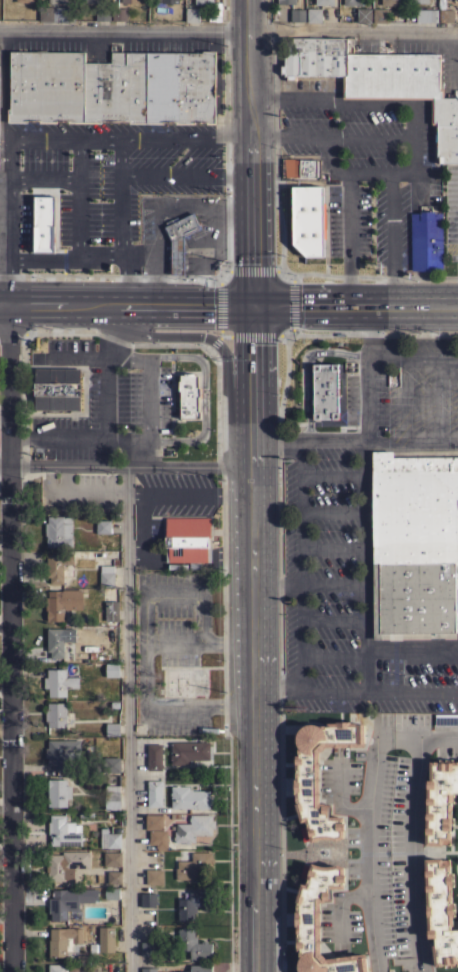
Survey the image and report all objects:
building: (24, 1)
building: (57, 1)
building: (91, 1)
building: (131, 1)
building: (170, 1)
building: (286, 1)
building: (419, 1)
building: (204, 2)
building: (324, 2)
building: (352, 2)
building: (390, 2)
building: (103, 13)
building: (56, 14)
building: (119, 14)
building: (192, 14)
building: (297, 14)
building: (314, 15)
building: (364, 15)
building: (380, 15)
building: (426, 15)
building: (446, 15)
road: (225, 29)
road: (451, 50)
building: (379, 78)
building: (113, 87)
road: (261, 99)
road: (341, 105)
building: (0, 110)
road: (375, 138)
road: (416, 138)
road: (88, 139)
road: (230, 139)
road: (263, 139)
road: (247, 153)
parking lot: (364, 162)
building: (304, 168)
road: (368, 173)
road: (405, 173)
road: (170, 175)
road: (234, 175)
road: (2, 184)
parking lot: (96, 190)
road: (344, 190)
road: (211, 206)
road: (119, 217)
road: (158, 218)
road: (4, 219)
road: (2, 220)
building: (308, 220)
parking lot: (452, 221)
building: (43, 223)
road: (80, 235)
building: (179, 239)
road: (392, 239)
building: (426, 241)
road: (192, 254)
road: (200, 254)
road: (2, 255)
road: (149, 255)
road: (177, 255)
road: (157, 272)
road: (370, 273)
road: (128, 276)
road: (4, 301)
road: (128, 303)
road: (4, 304)
road: (353, 305)
traffic signals: (249, 306)
road: (369, 330)
road: (414, 355)
building: (56, 388)
building: (325, 391)
building: (189, 395)
road: (370, 398)
road: (4, 416)
road: (303, 440)
road: (124, 463)
road: (360, 463)
road: (196, 494)
road: (299, 511)
road: (142, 524)
building: (103, 526)
building: (58, 530)
building: (187, 540)
building: (414, 543)
building: (59, 566)
building: (107, 571)
road: (275, 583)
road: (331, 583)
building: (62, 603)
building: (111, 611)
road: (145, 616)
road: (10, 637)
road: (300, 637)
road: (252, 638)
building: (57, 643)
road: (411, 649)
building: (112, 669)
building: (59, 682)
road: (364, 692)
road: (412, 692)
road: (167, 708)
building: (55, 714)
road: (129, 717)
building: (446, 718)
building: (112, 728)
road: (438, 733)
building: (189, 751)
building: (60, 753)
building: (154, 757)
building: (111, 764)
building: (307, 786)
building: (154, 792)
building: (58, 793)
building: (112, 797)
building: (189, 797)
building: (440, 800)
building: (154, 821)
building: (194, 828)
building: (63, 831)
building: (158, 838)
building: (109, 839)
road: (412, 839)
road: (370, 843)
building: (112, 858)
building: (65, 864)
building: (194, 865)
building: (154, 876)
building: (114, 877)
building: (111, 893)
building: (148, 899)
building: (68, 901)
building: (193, 903)
building: (441, 911)
building: (320, 923)
building: (106, 938)
building: (63, 940)
building: (193, 944)
building: (148, 948)
building: (56, 968)
building: (199, 968)
building: (148, 969)

